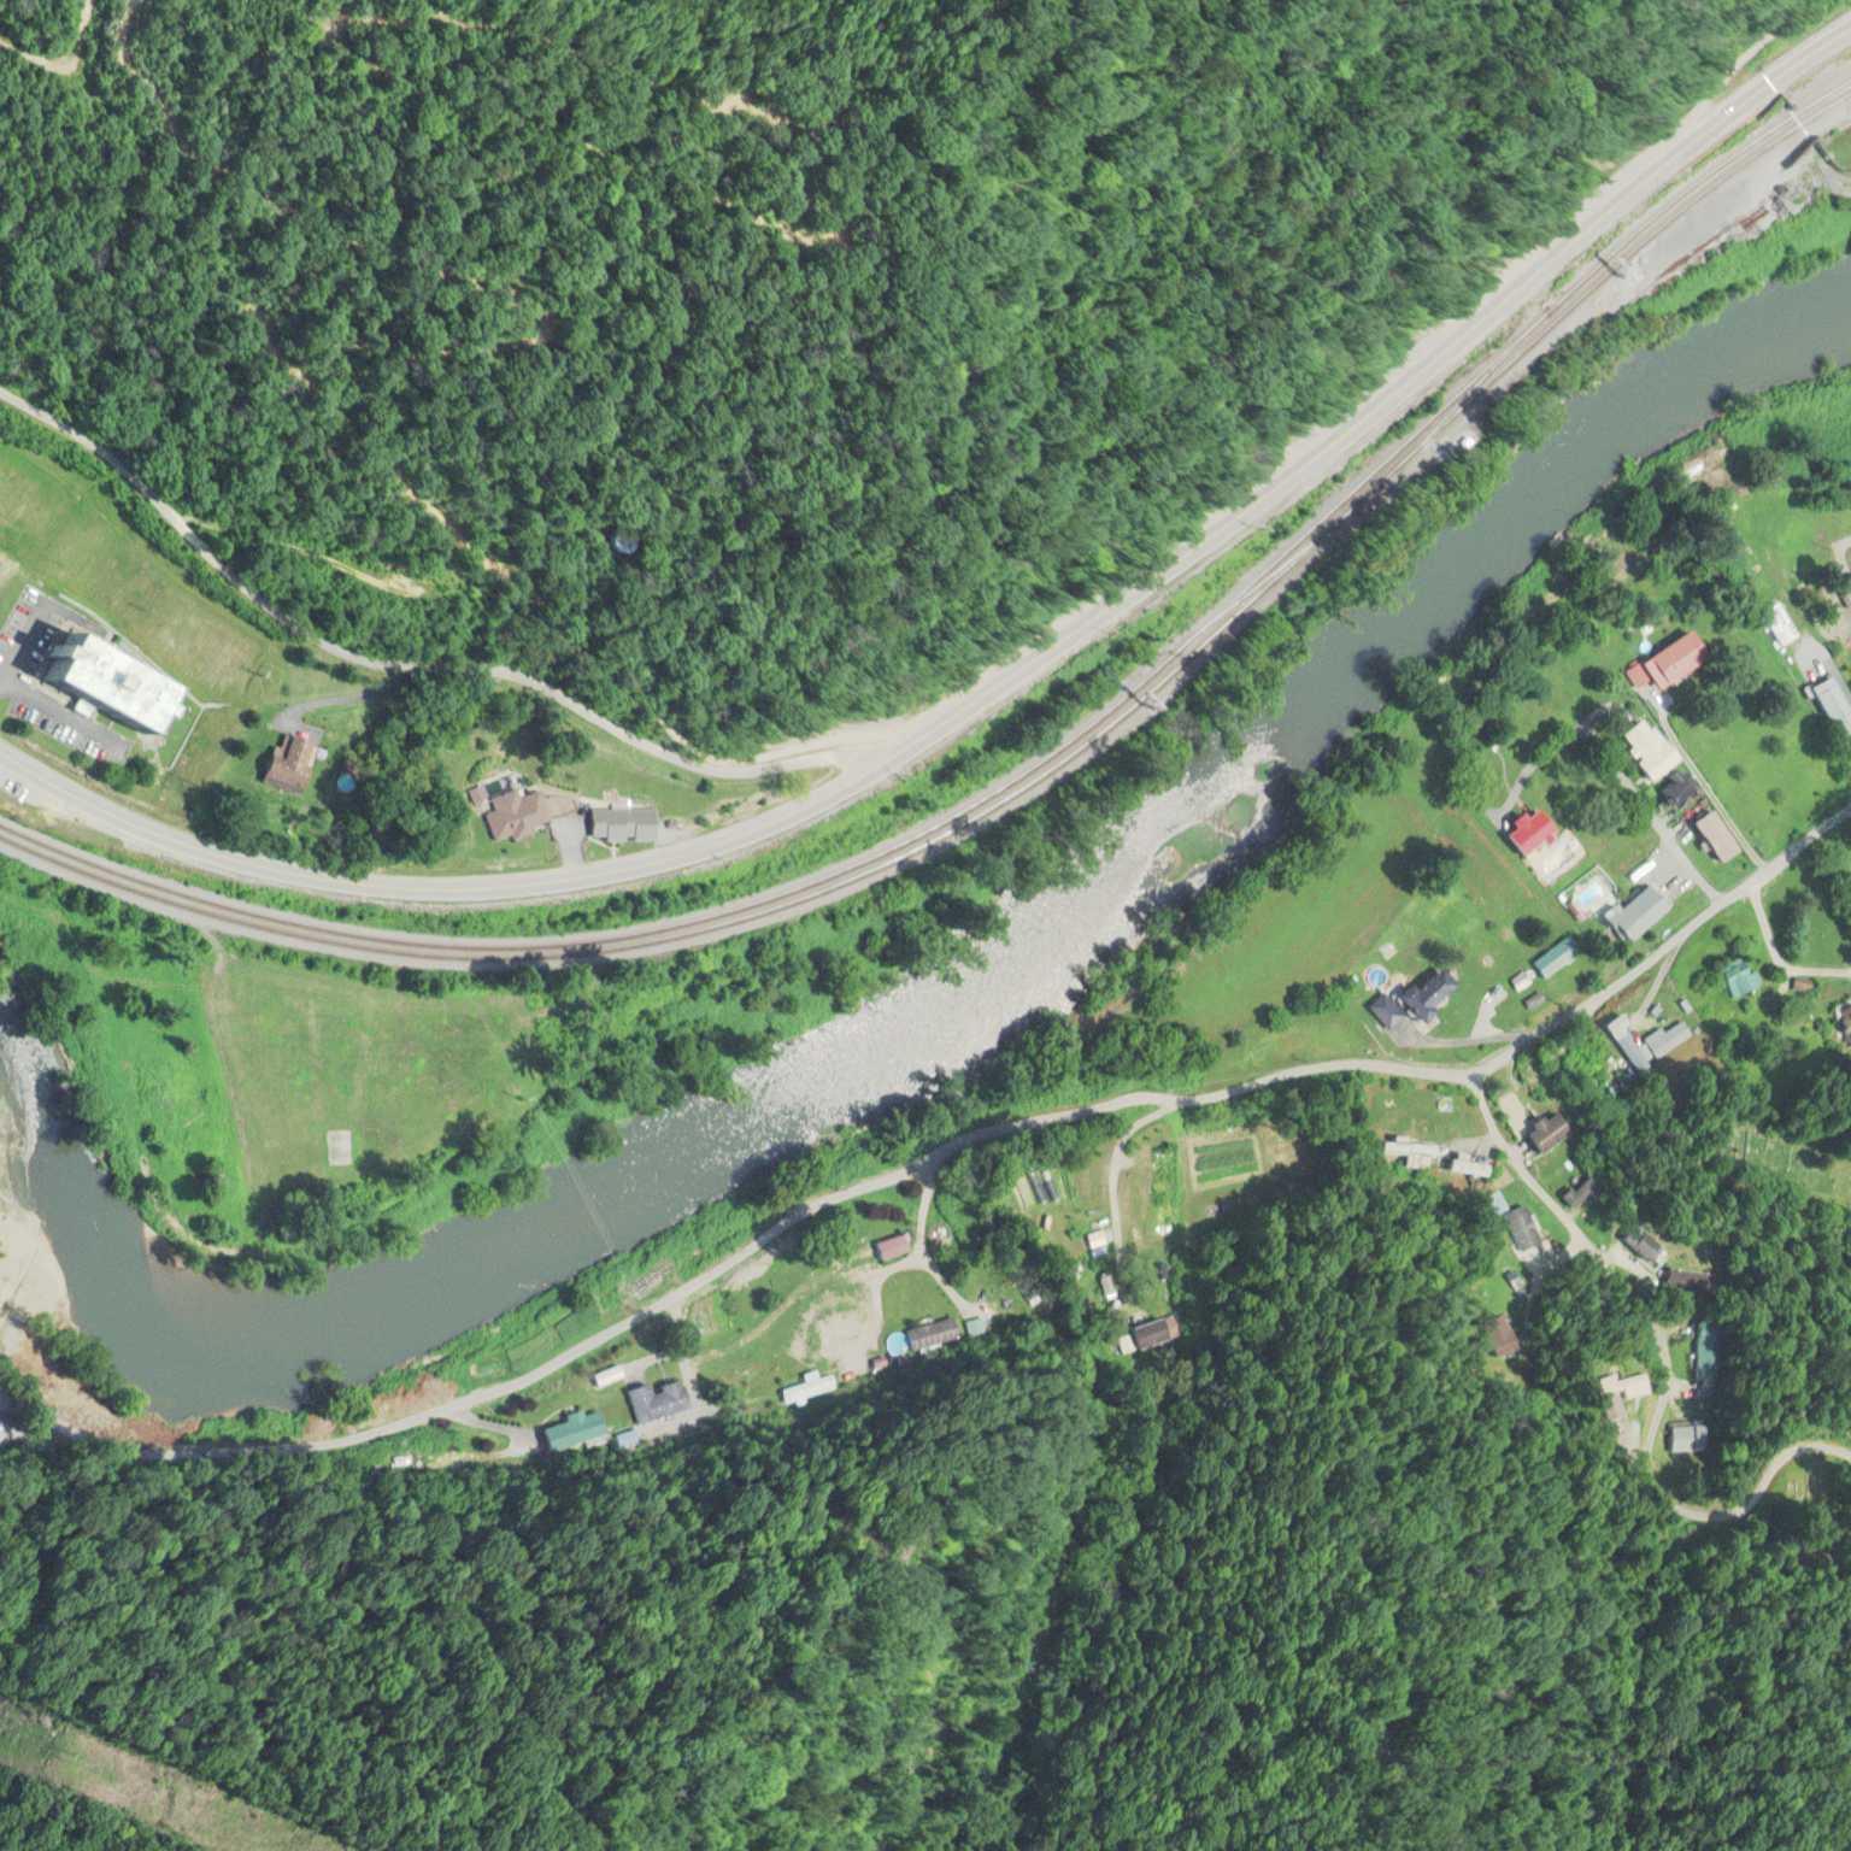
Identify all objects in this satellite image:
road: (744, 240)
road: (240, 323)
road: (1397, 384)
railway: (1455, 406)
road: (1840, 560)
building: (0, 563)
building: (1771, 627)
building: (1662, 663)
building: (121, 677)
building: (1850, 687)
building: (1828, 711)
road: (921, 744)
building: (1638, 750)
road: (1614, 760)
building: (295, 765)
railway: (1022, 770)
railway: (1023, 786)
building: (1669, 789)
building: (518, 816)
building: (625, 825)
road: (137, 827)
building: (1522, 832)
building: (1706, 838)
road: (607, 871)
building: (1850, 879)
building: (1632, 916)
building: (1553, 958)
building: (1734, 980)
building: (1416, 995)
building: (1379, 1012)
river: (953, 1019)
building: (1846, 1023)
building: (564, 1026)
building: (1645, 1044)
building: (1610, 1080)
building: (1542, 1134)
building: (1402, 1156)
road: (927, 1157)
building: (413, 1160)
building: (1160, 1191)
building: (1517, 1230)
building: (894, 1248)
road: (1628, 1294)
building: (930, 1332)
building: (1140, 1336)
building: (1616, 1388)
building: (1610, 1427)
road: (1775, 1475)

